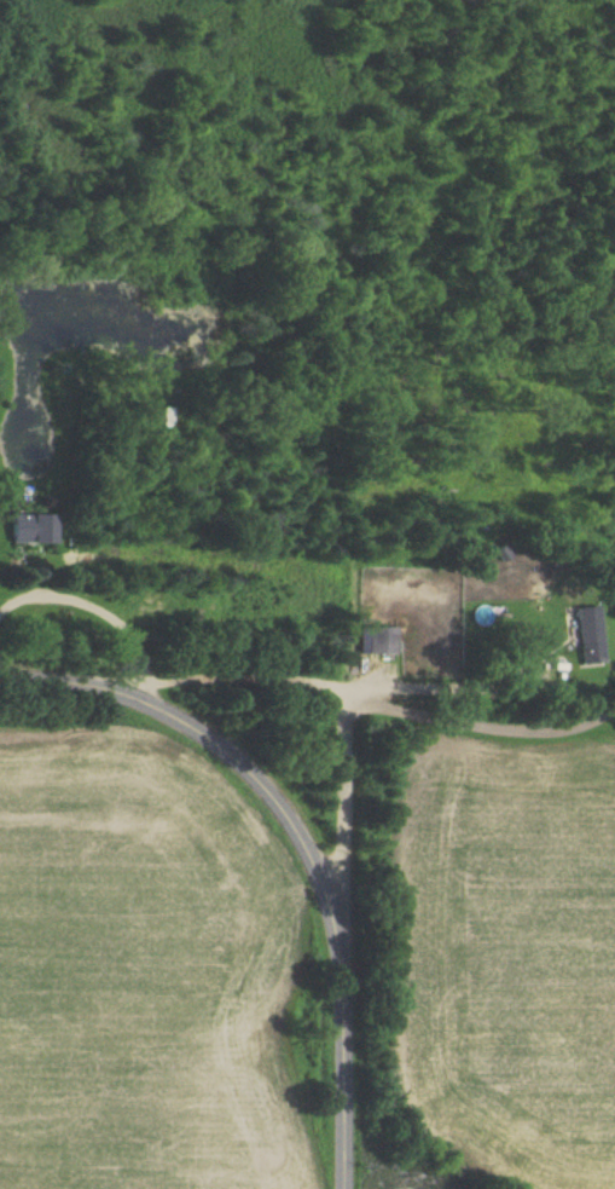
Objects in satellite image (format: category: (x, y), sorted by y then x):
building: (168, 419)
building: (31, 529)
road: (94, 607)
building: (588, 635)
building: (378, 640)
road: (372, 704)
road: (341, 785)
road: (301, 838)

